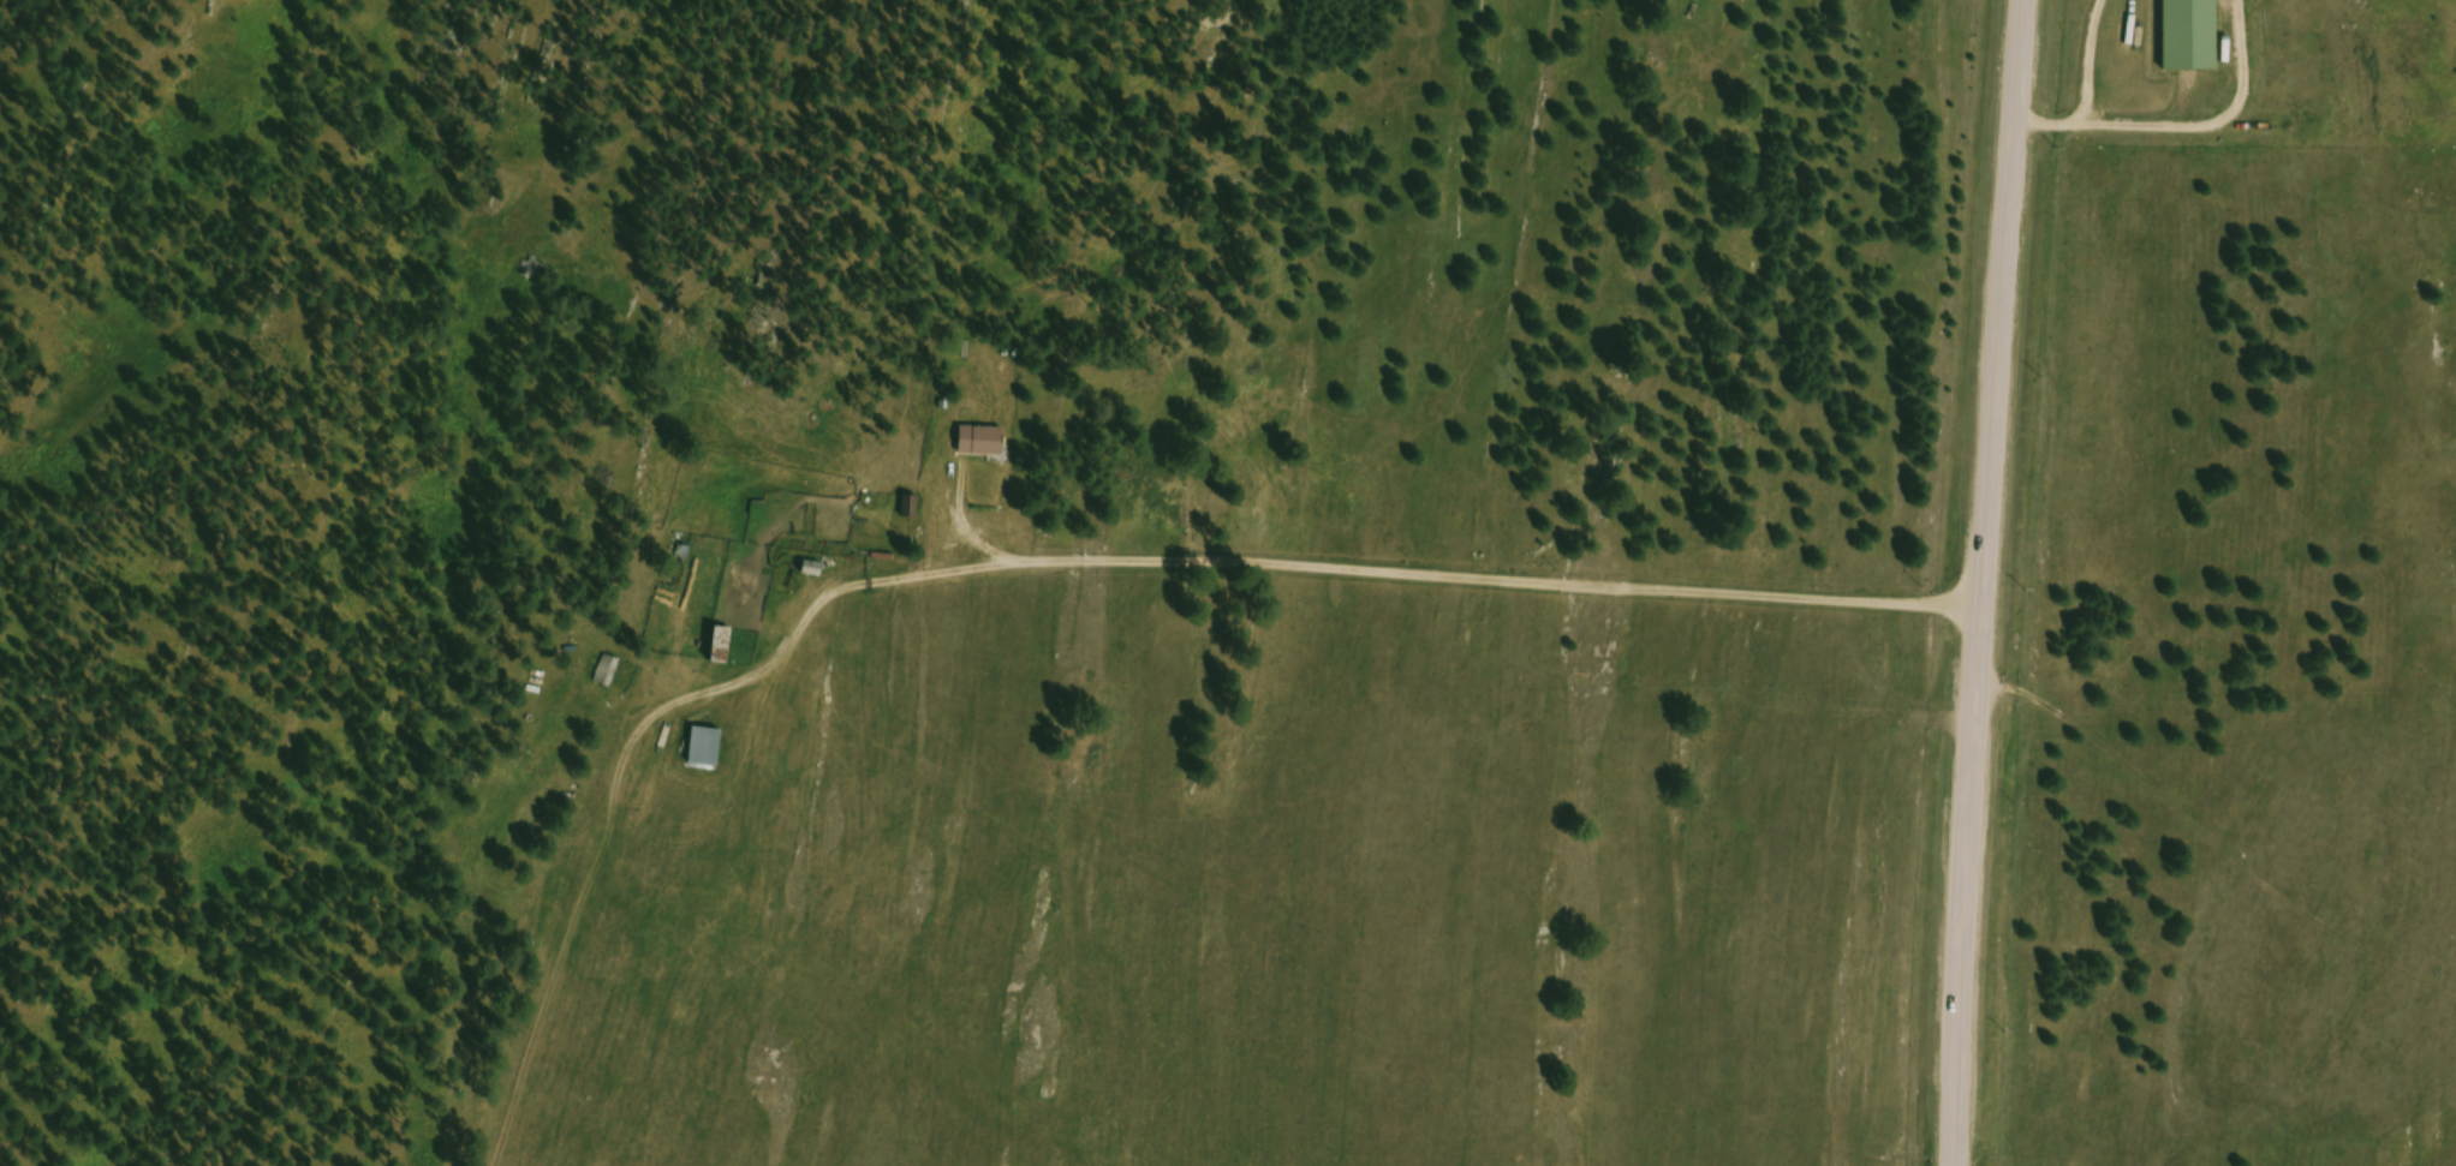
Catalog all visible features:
building: (2194, 35)
building: (985, 443)
road: (1975, 582)
road: (1455, 588)
building: (608, 675)
building: (710, 749)

